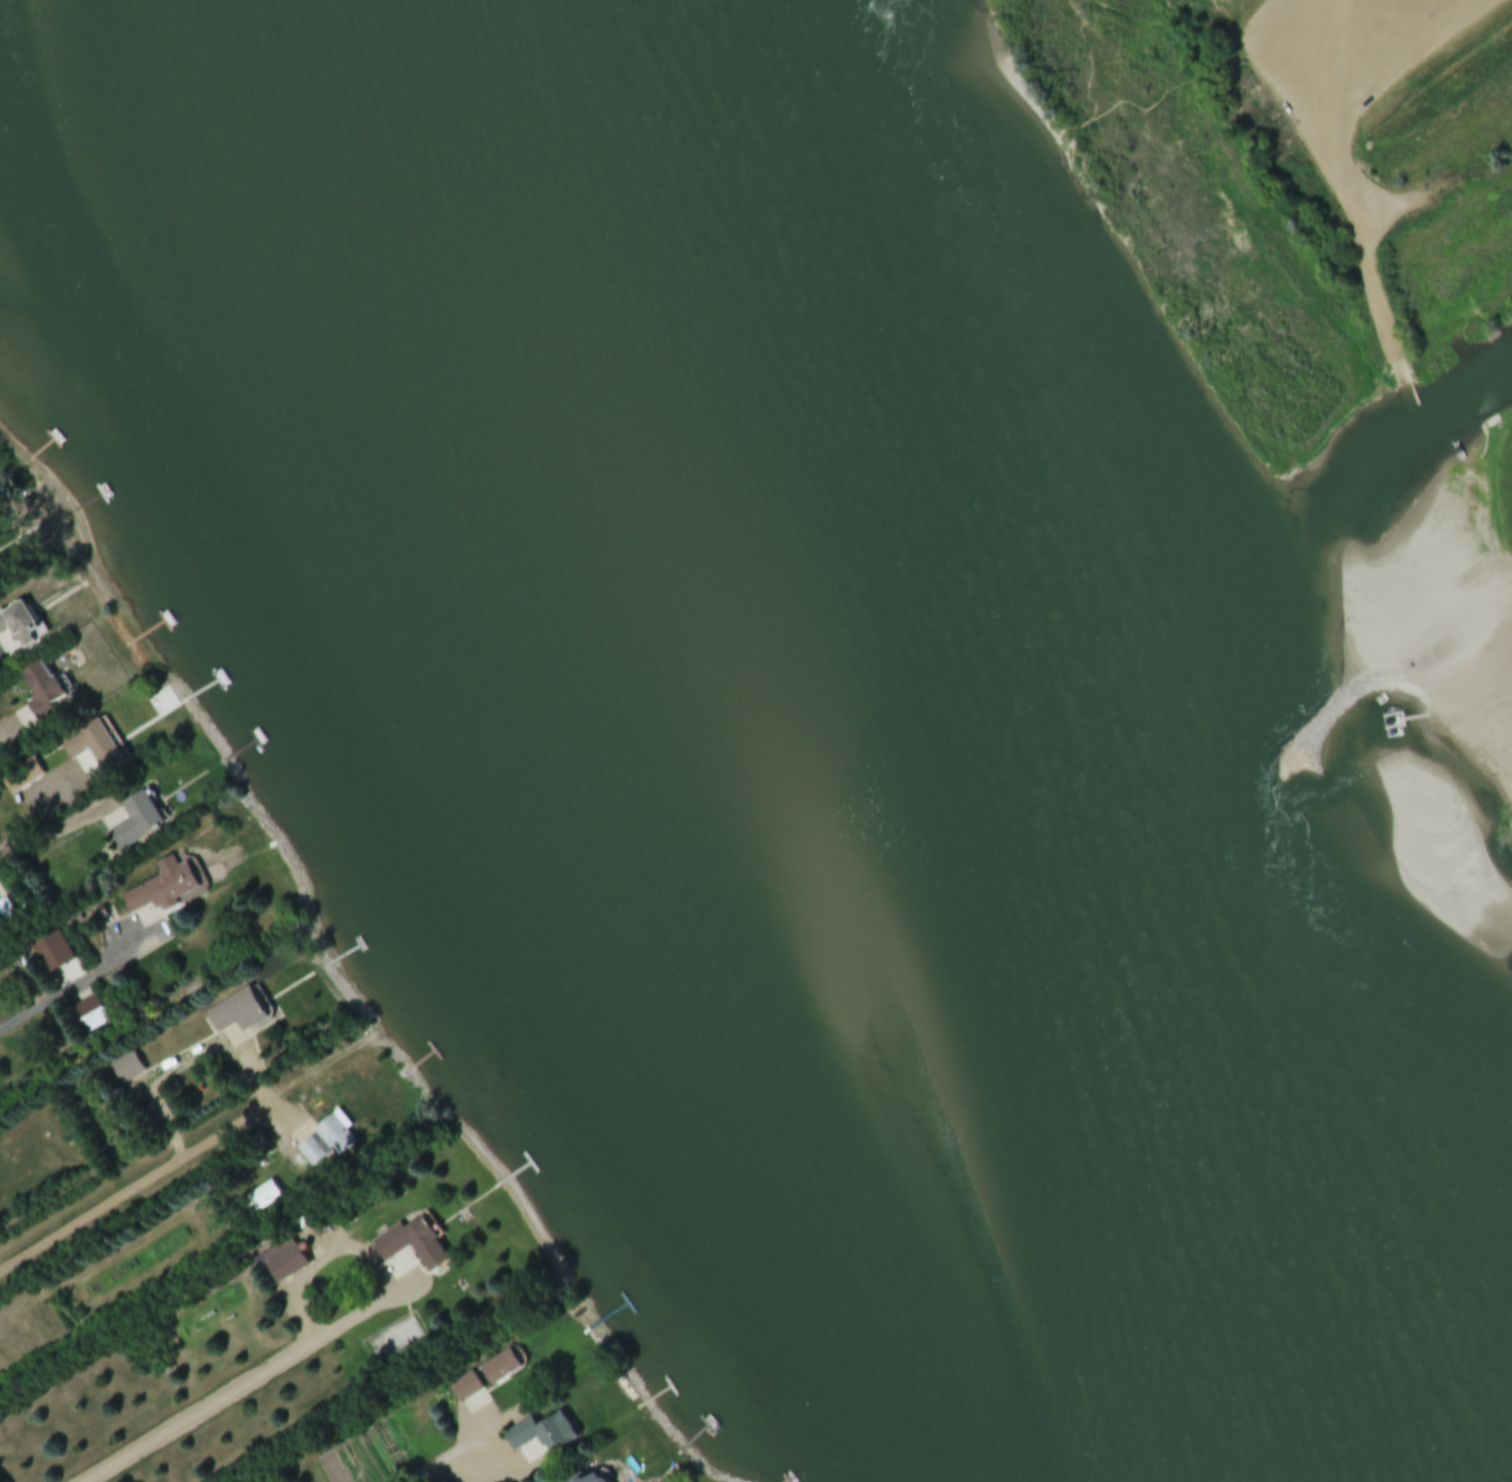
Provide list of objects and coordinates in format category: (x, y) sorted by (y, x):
road: (1351, 175)
park: (1287, 185)
building: (15, 631)
building: (39, 693)
river: (626, 741)
building: (92, 746)
building: (21, 778)
road: (44, 810)
building: (135, 823)
road: (57, 835)
building: (162, 889)
building: (6, 910)
building: (51, 954)
road: (73, 988)
building: (235, 1014)
building: (87, 1017)
road: (225, 1048)
building: (127, 1070)
building: (335, 1136)
building: (311, 1153)
building: (261, 1200)
road: (91, 1212)
building: (411, 1246)
road: (360, 1253)
building: (285, 1266)
building: (500, 1369)
building: (464, 1390)
road: (204, 1412)
building: (541, 1436)
road: (454, 1455)
building: (590, 1479)

